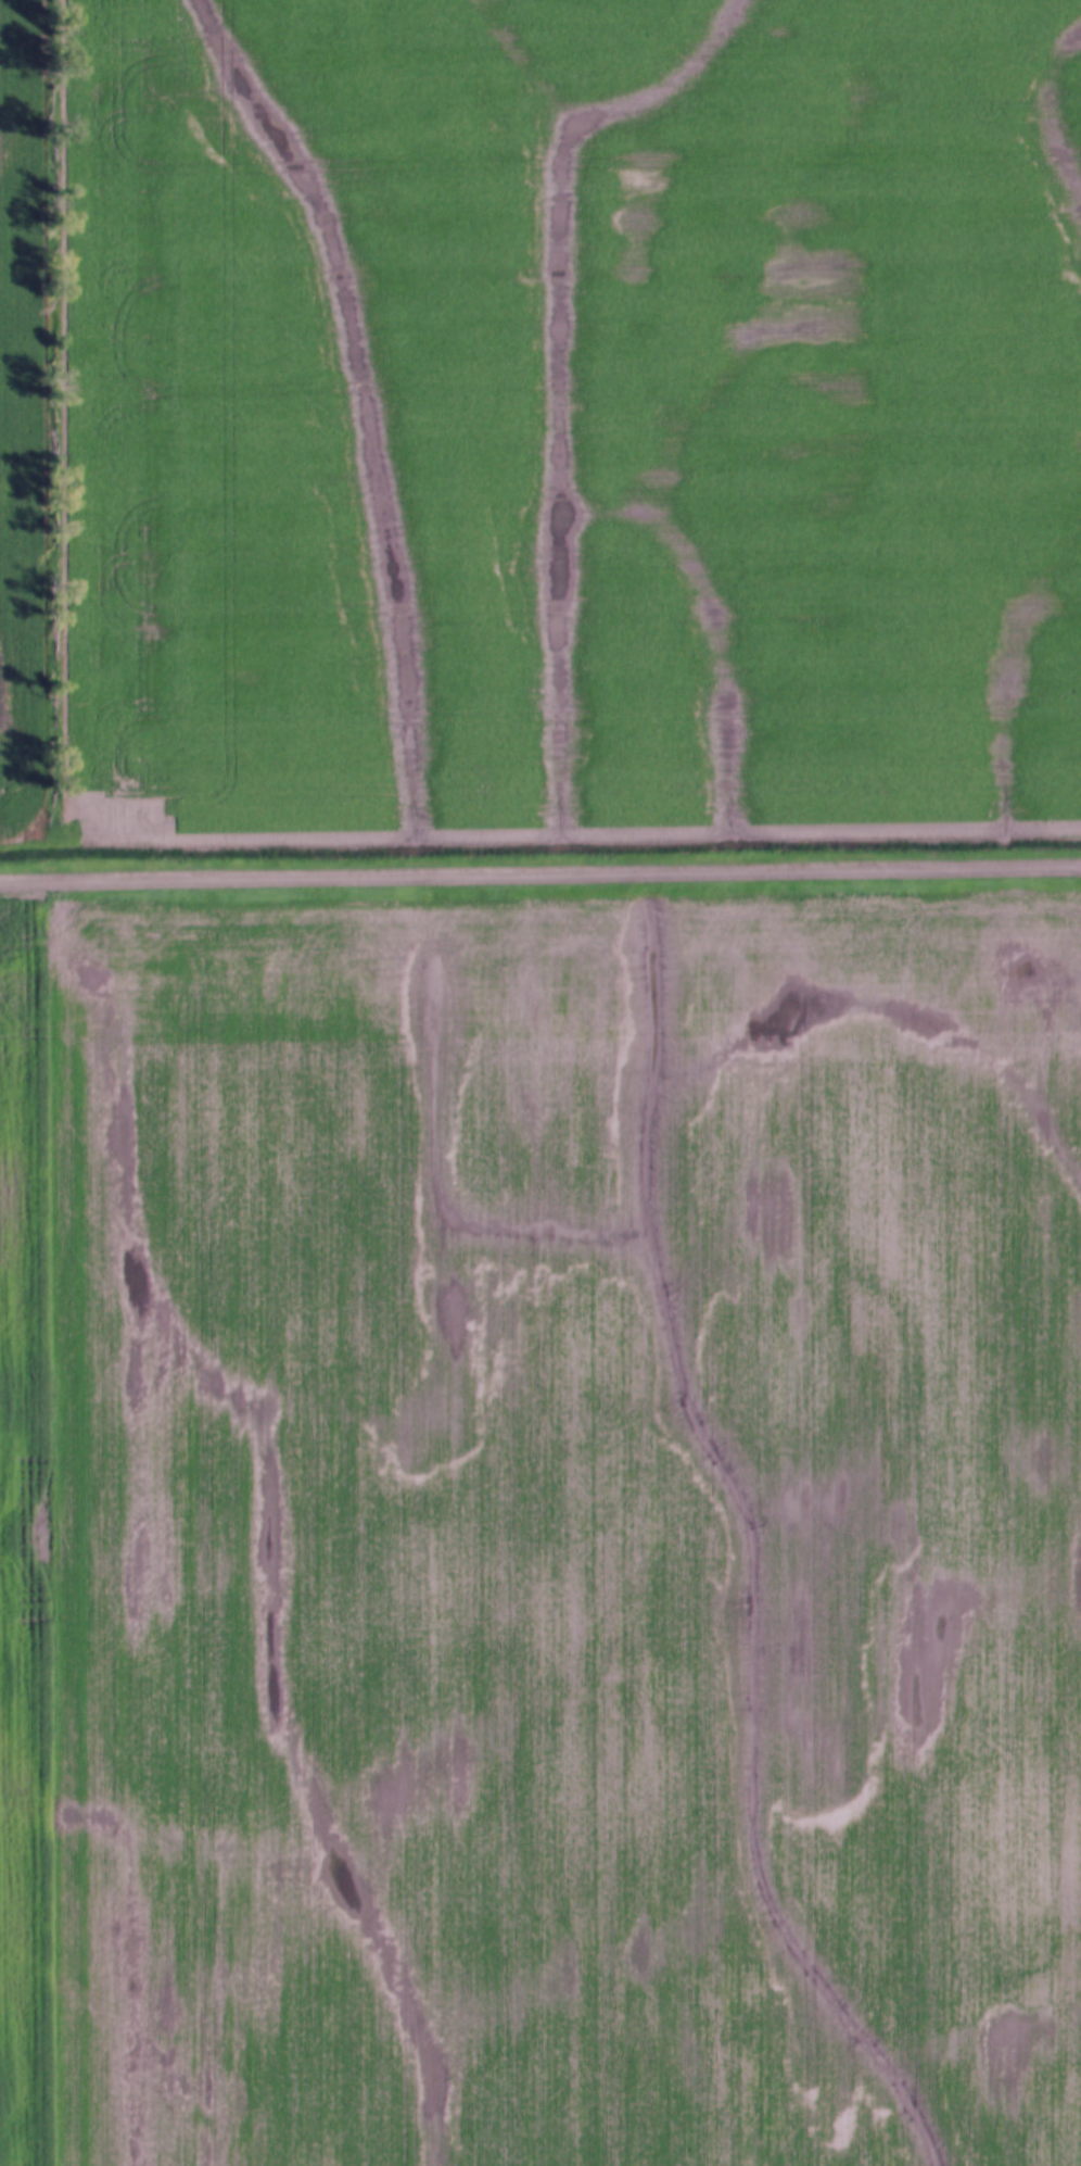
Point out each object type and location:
road: (540, 881)

